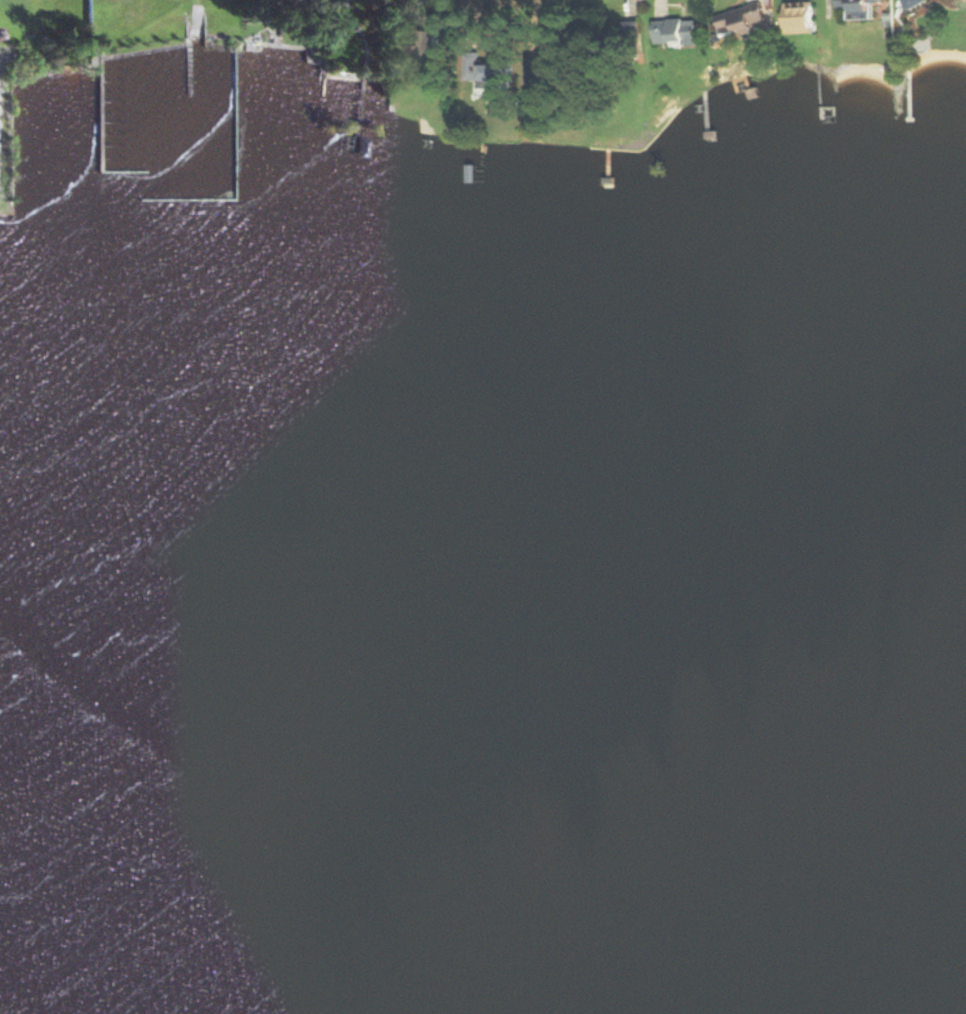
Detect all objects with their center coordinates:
building: (912, 3)
road: (399, 8)
building: (860, 8)
building: (742, 19)
building: (675, 32)
building: (426, 36)
building: (622, 39)
building: (547, 69)
building: (497, 70)

